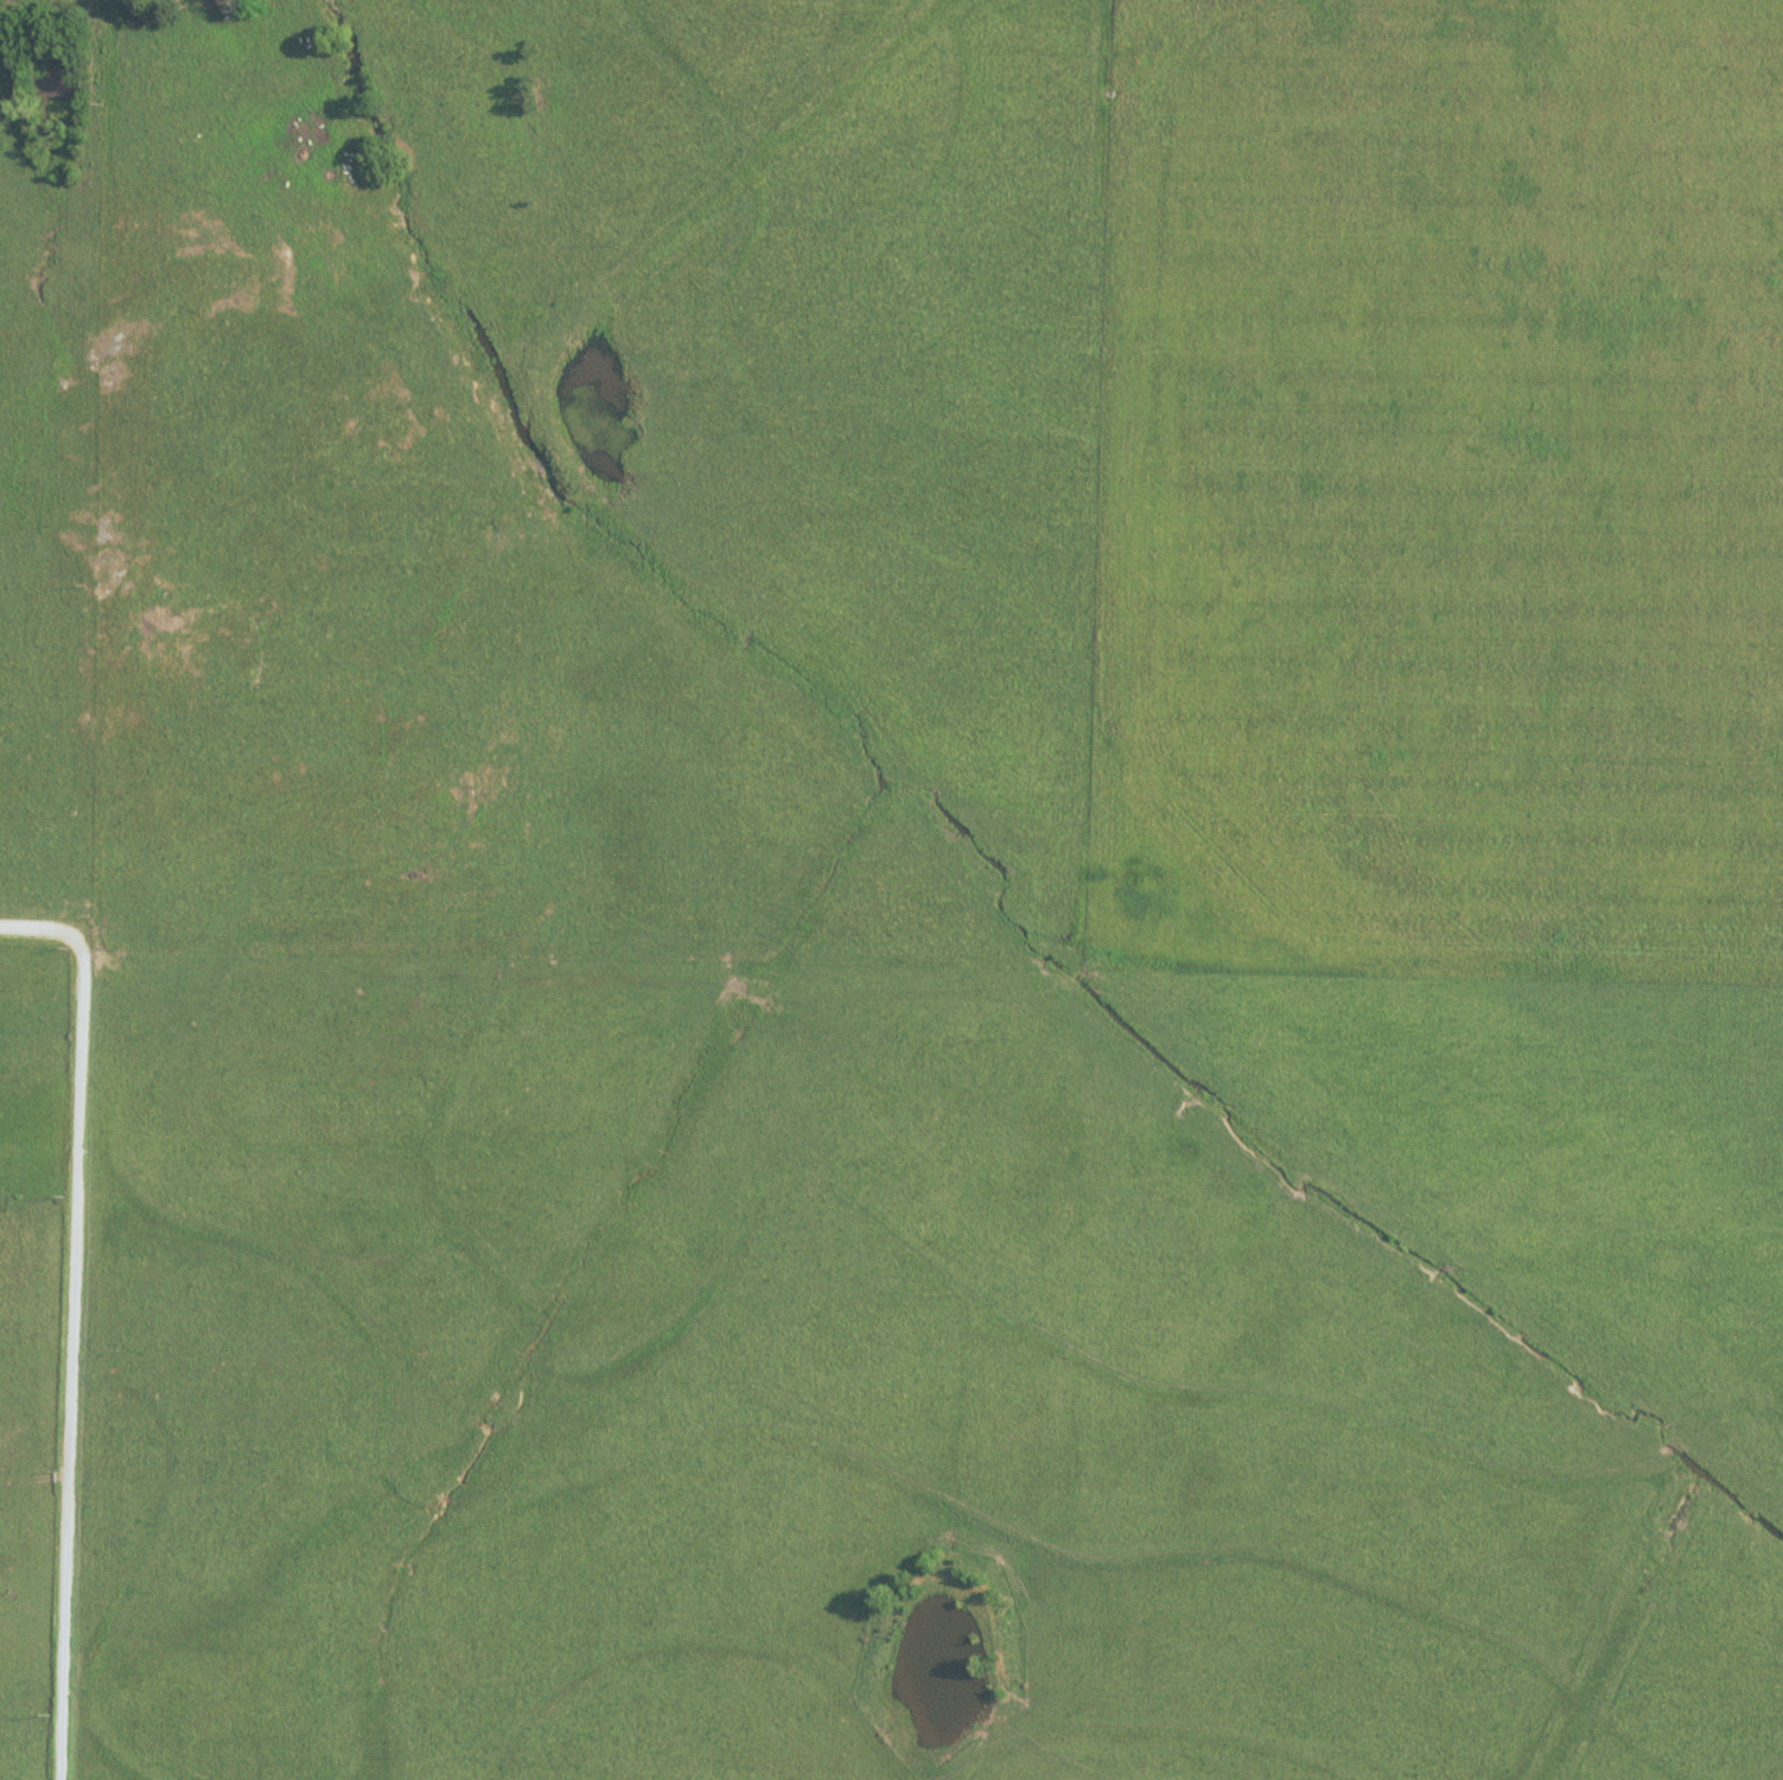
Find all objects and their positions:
road: (52, 928)
road: (75, 1369)

